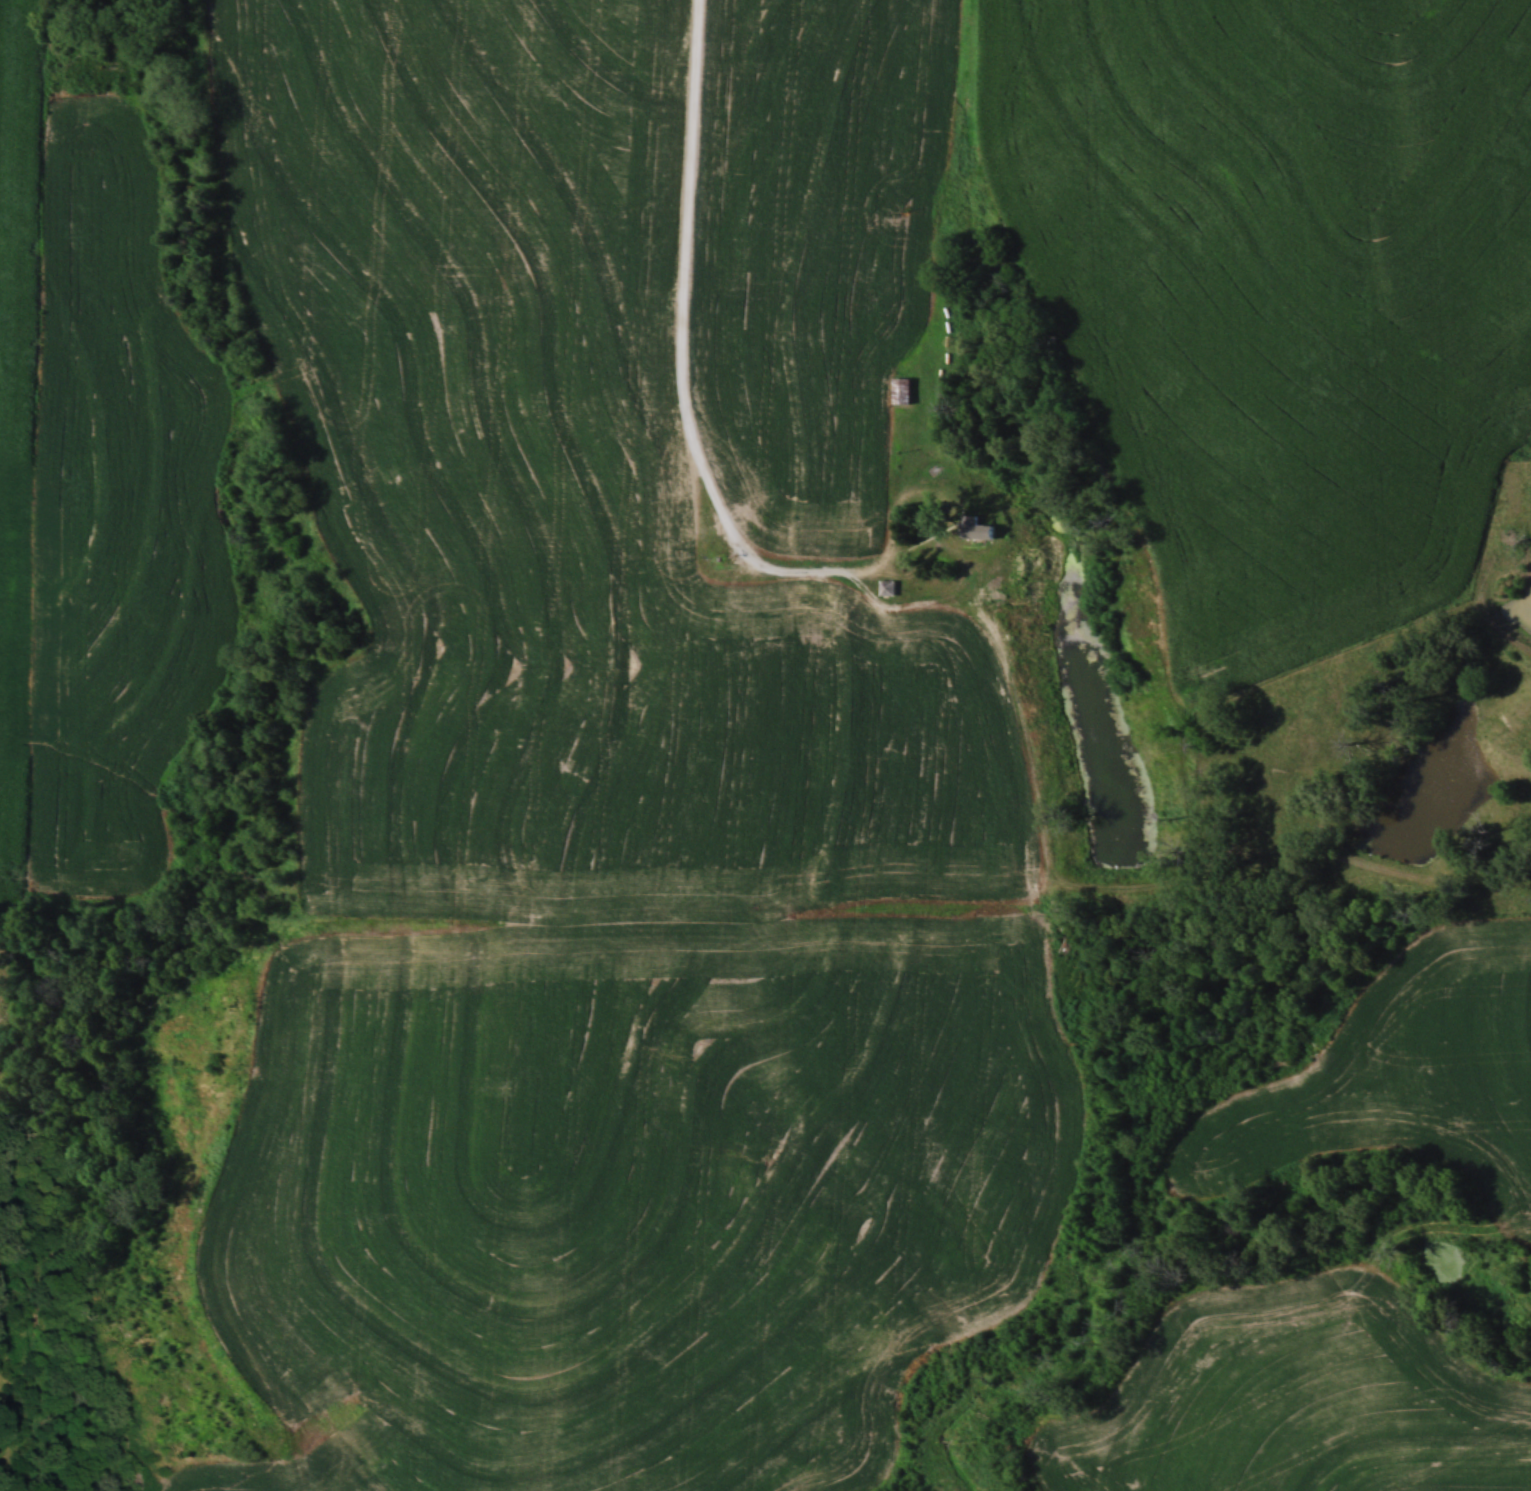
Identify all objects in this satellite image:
building: (902, 392)
road: (690, 411)
building: (979, 532)
building: (889, 589)

